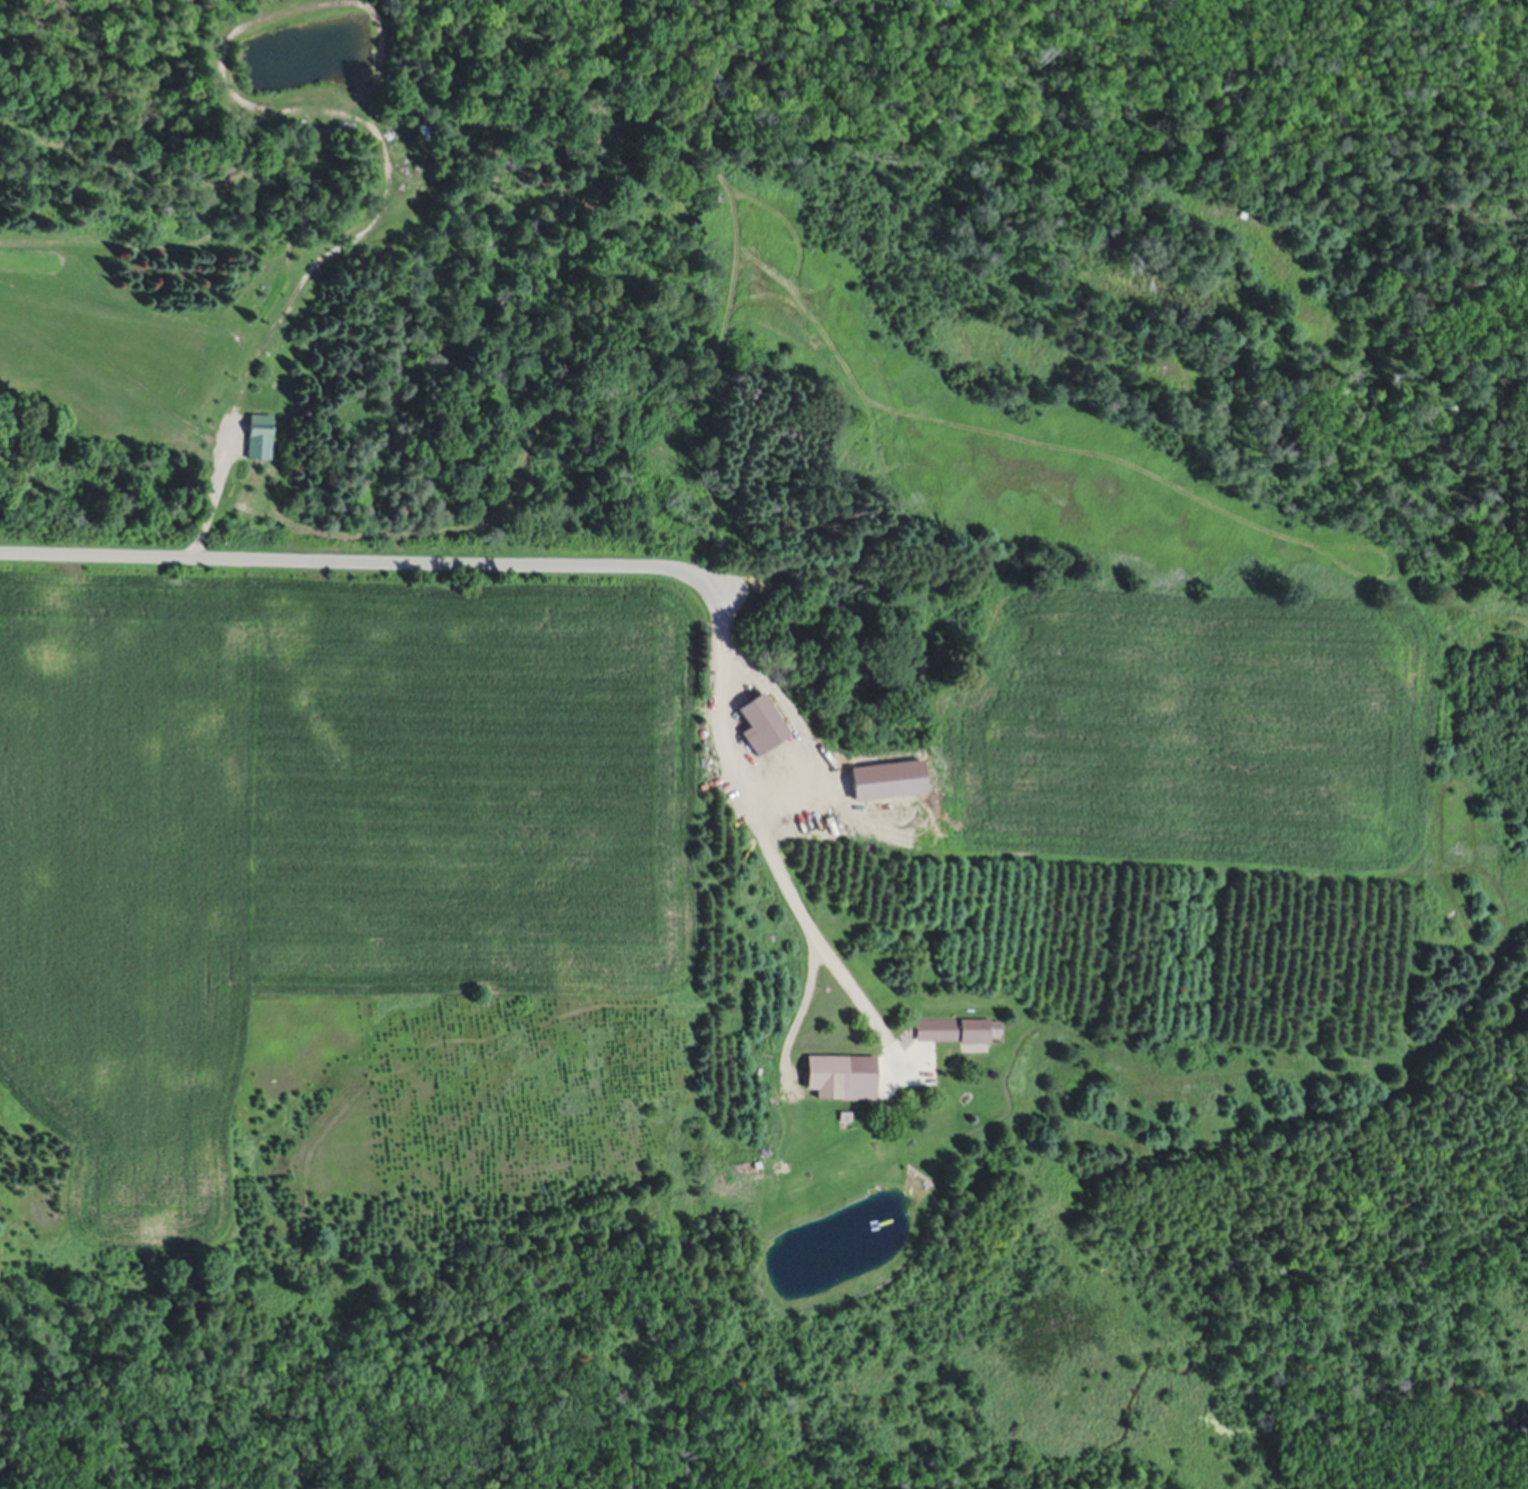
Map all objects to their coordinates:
building: (428, 129)
building: (322, 342)
building: (261, 422)
road: (357, 558)
building: (762, 720)
road: (768, 841)
building: (960, 1027)
building: (843, 1069)
building: (847, 1112)

